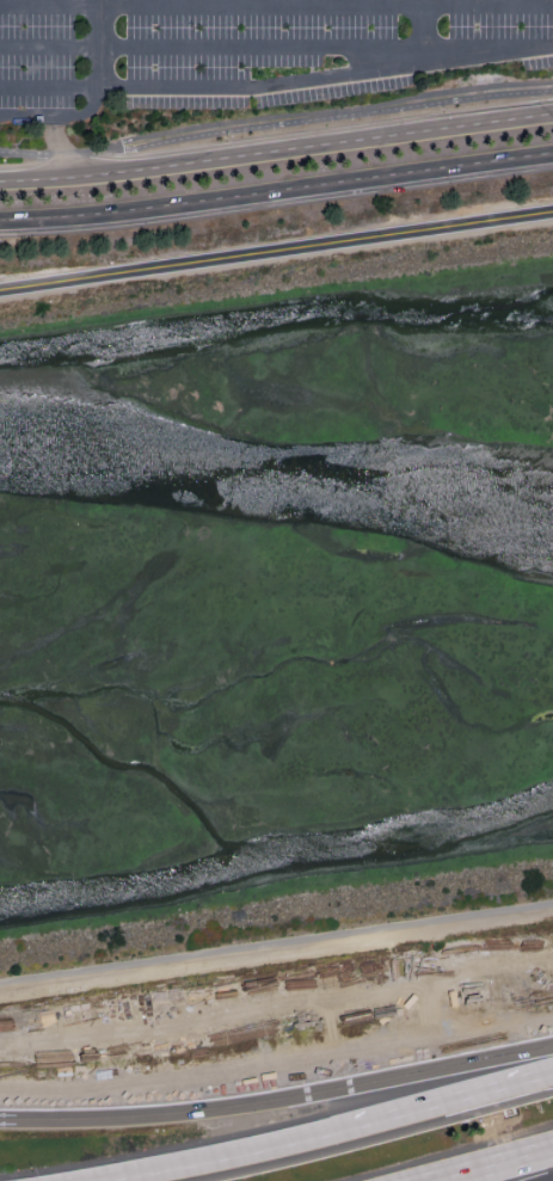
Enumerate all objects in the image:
road: (276, 7)
road: (105, 24)
road: (422, 31)
road: (210, 48)
parking lot: (245, 50)
road: (328, 75)
road: (70, 87)
road: (334, 111)
road: (59, 113)
road: (276, 146)
road: (59, 154)
road: (104, 161)
road: (35, 168)
road: (276, 195)
road: (276, 251)
river: (277, 479)
road: (276, 945)
road: (431, 1074)
road: (491, 1090)
road: (155, 1117)
road: (348, 1128)
road: (186, 1165)
road: (497, 1165)
road: (548, 1179)

